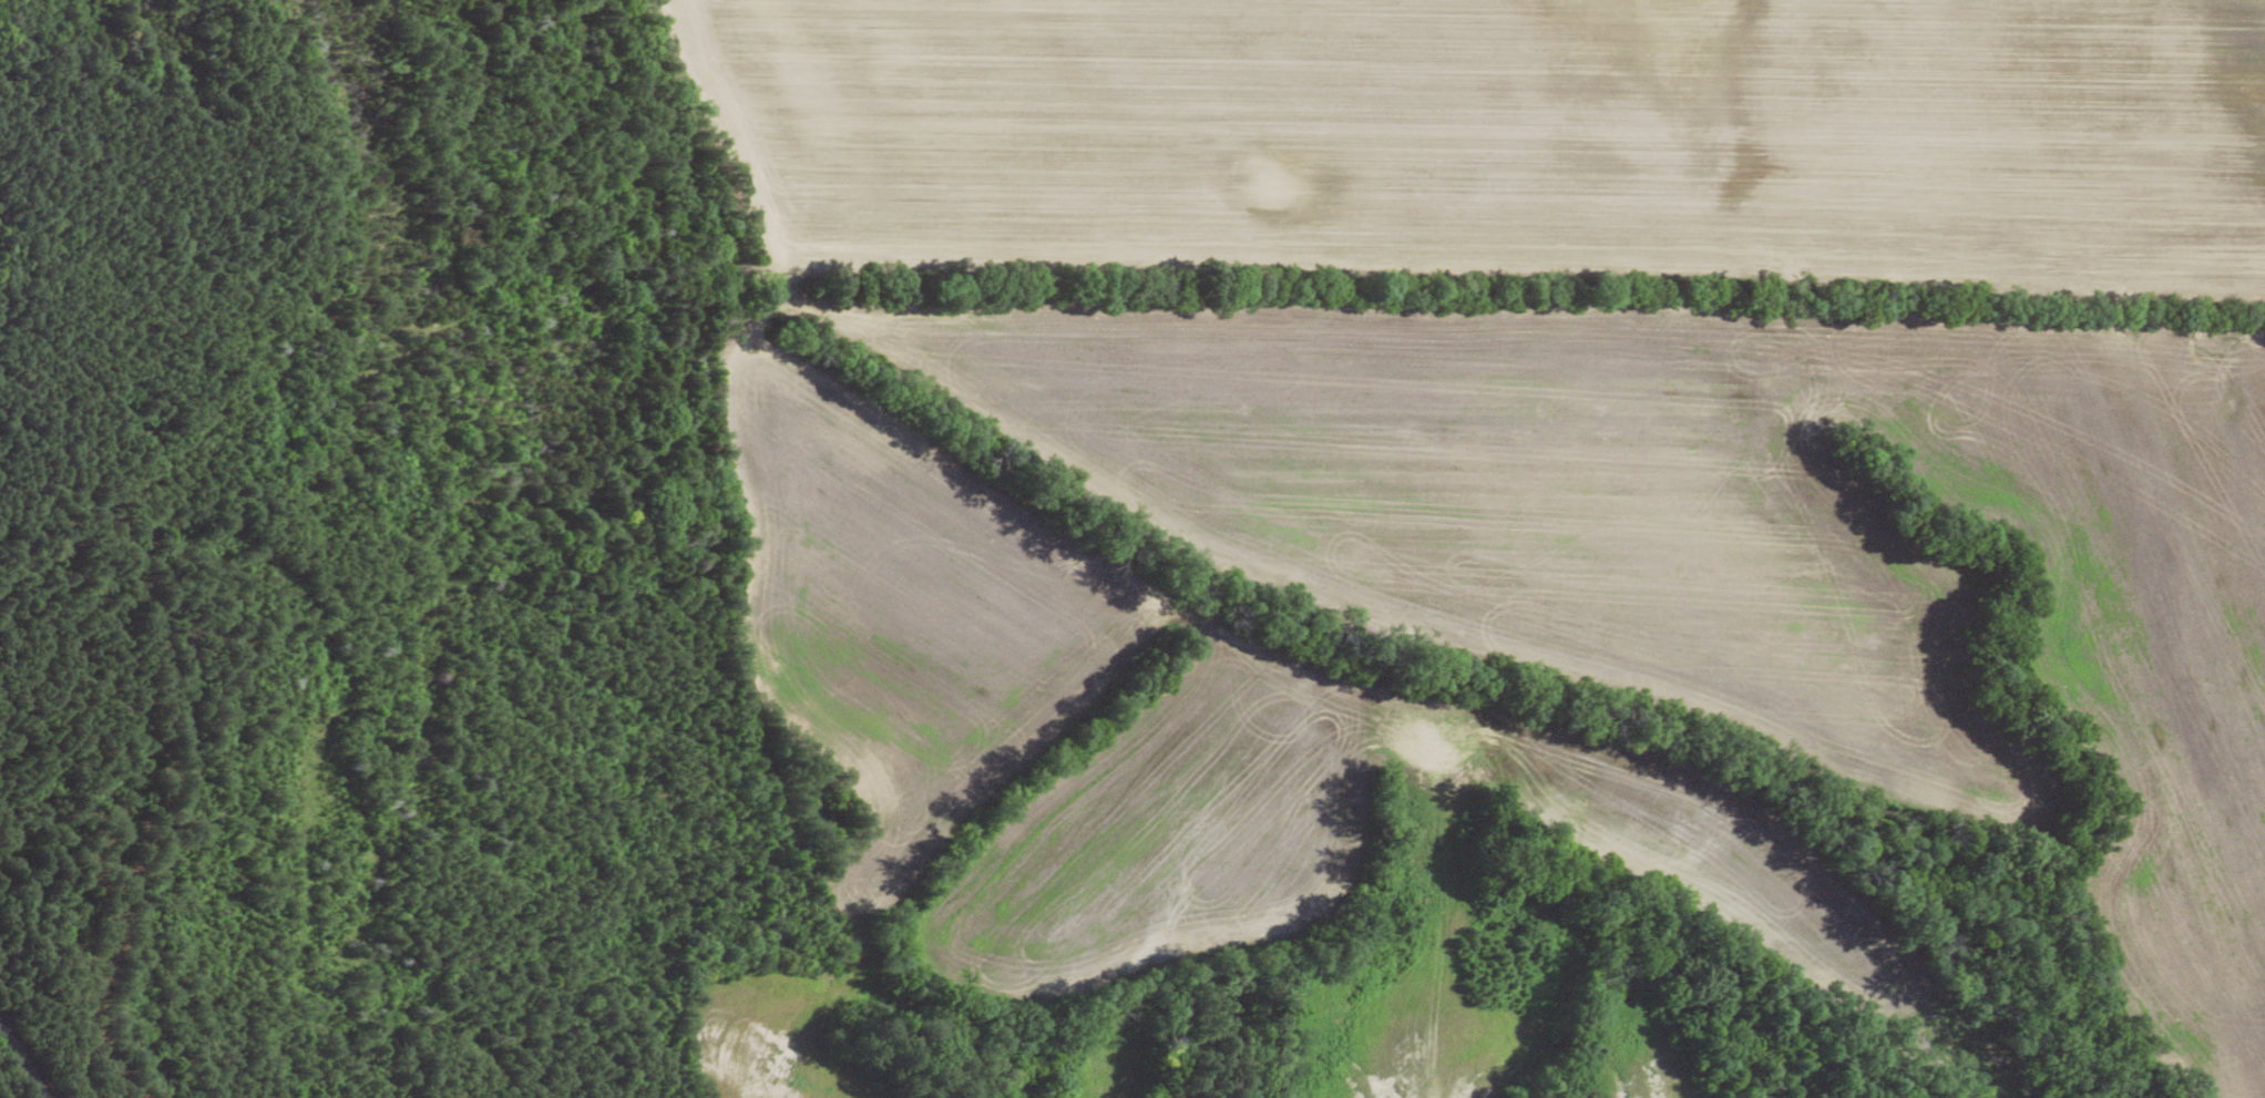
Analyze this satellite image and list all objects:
road: (28, 1059)

